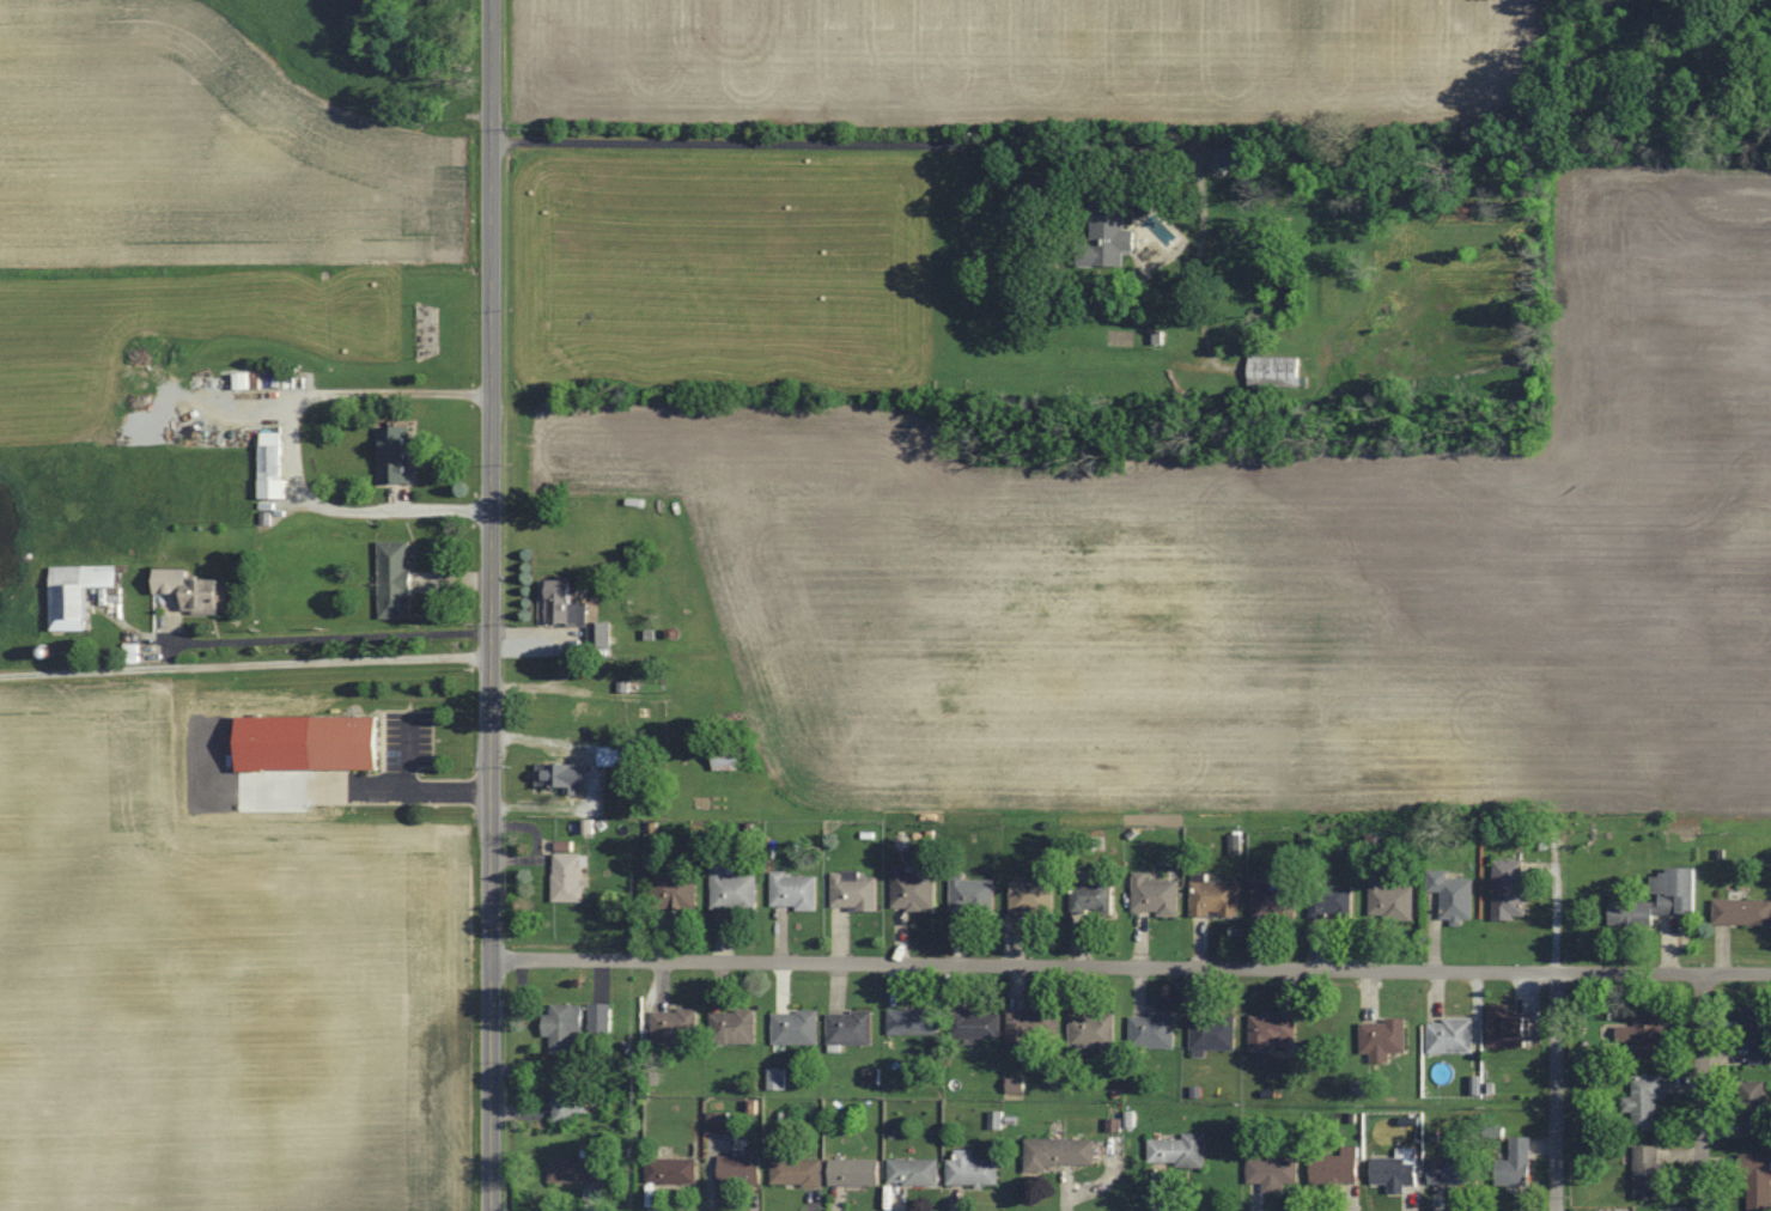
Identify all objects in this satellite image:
road: (799, 144)
building: (1229, 158)
building: (1108, 231)
building: (1276, 371)
road: (291, 445)
building: (395, 456)
building: (272, 465)
building: (396, 576)
building: (191, 591)
building: (77, 595)
road: (491, 604)
building: (566, 605)
building: (602, 634)
road: (328, 635)
road: (244, 663)
building: (591, 711)
building: (347, 744)
building: (615, 757)
building: (559, 777)
road: (410, 797)
building: (570, 877)
building: (734, 888)
building: (914, 888)
building: (1510, 888)
building: (675, 890)
building: (796, 890)
building: (854, 890)
building: (974, 893)
building: (1156, 895)
building: (1454, 895)
building: (1033, 897)
building: (1093, 897)
building: (1216, 899)
building: (1276, 899)
building: (1661, 899)
building: (1333, 900)
building: (1392, 900)
building: (1742, 911)
road: (1131, 967)
building: (602, 1016)
building: (914, 1021)
building: (1034, 1021)
building: (976, 1023)
building: (564, 1026)
building: (676, 1026)
building: (734, 1027)
building: (797, 1027)
building: (851, 1027)
building: (1509, 1027)
building: (1093, 1029)
building: (1154, 1030)
building: (1272, 1030)
building: (1647, 1032)
building: (1759, 1032)
building: (1215, 1033)
building: (1452, 1034)
building: (1384, 1037)
road: (1557, 1091)
road: (1702, 1091)
building: (567, 1095)
building: (1645, 1100)
building: (1753, 1108)
building: (1179, 1150)
building: (1061, 1151)
building: (1517, 1166)
building: (741, 1168)
building: (1338, 1168)
building: (1398, 1168)
building: (574, 1169)
building: (973, 1169)
building: (673, 1170)
building: (1455, 1170)
building: (798, 1172)
building: (856, 1172)
building: (914, 1172)
building: (1649, 1172)
building: (1273, 1173)
building: (1758, 1180)

